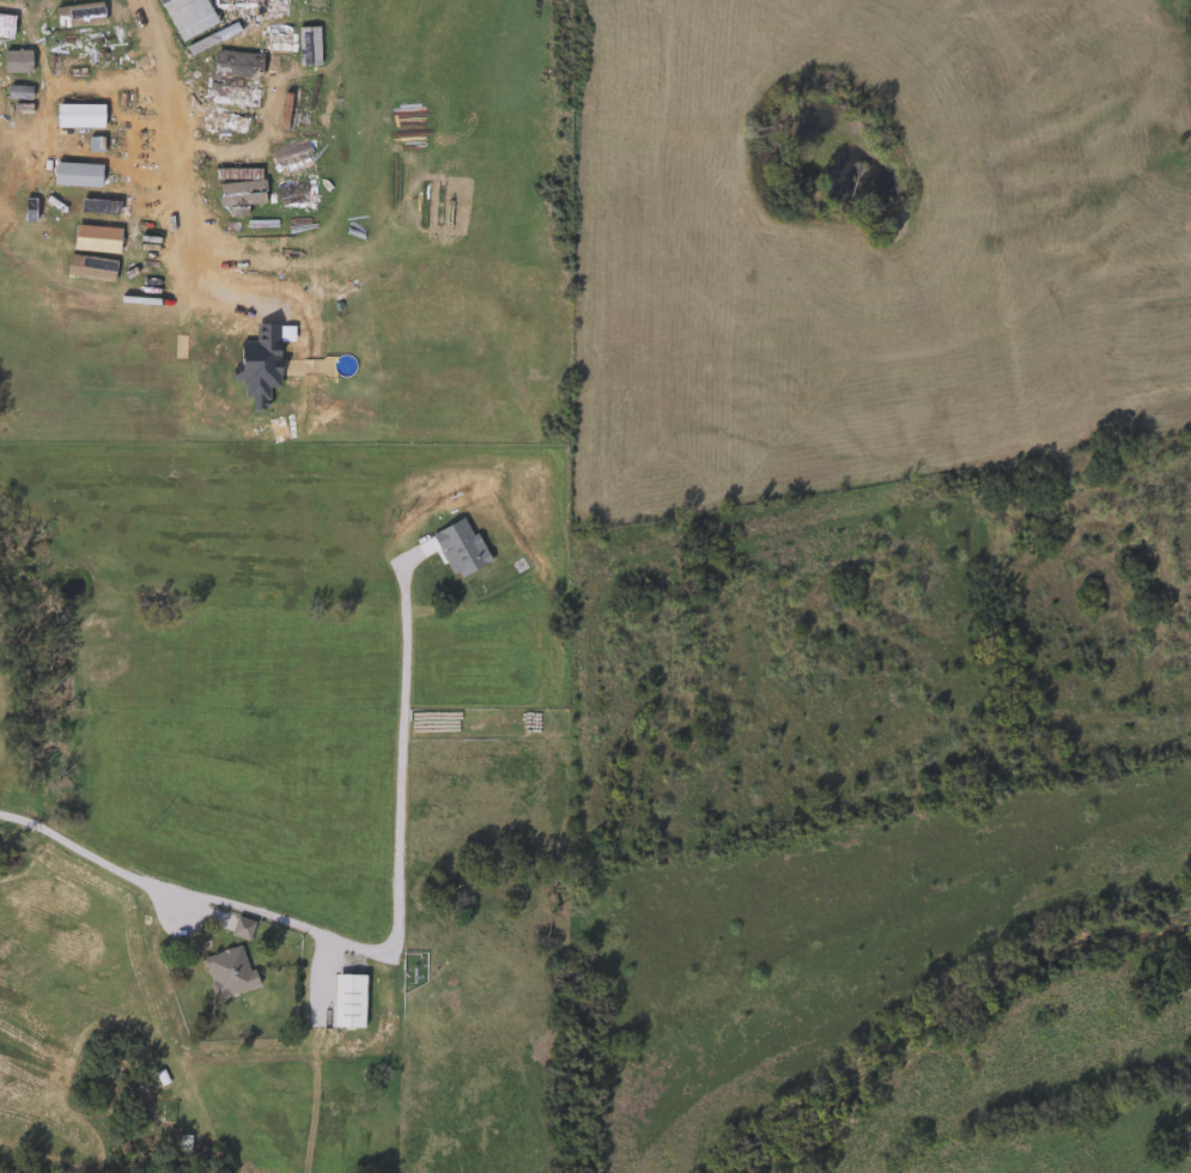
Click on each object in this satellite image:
building: (12, 5)
building: (235, 62)
road: (157, 73)
building: (232, 93)
building: (242, 123)
road: (198, 254)
building: (238, 928)
road: (371, 950)
building: (227, 972)
building: (346, 1001)

